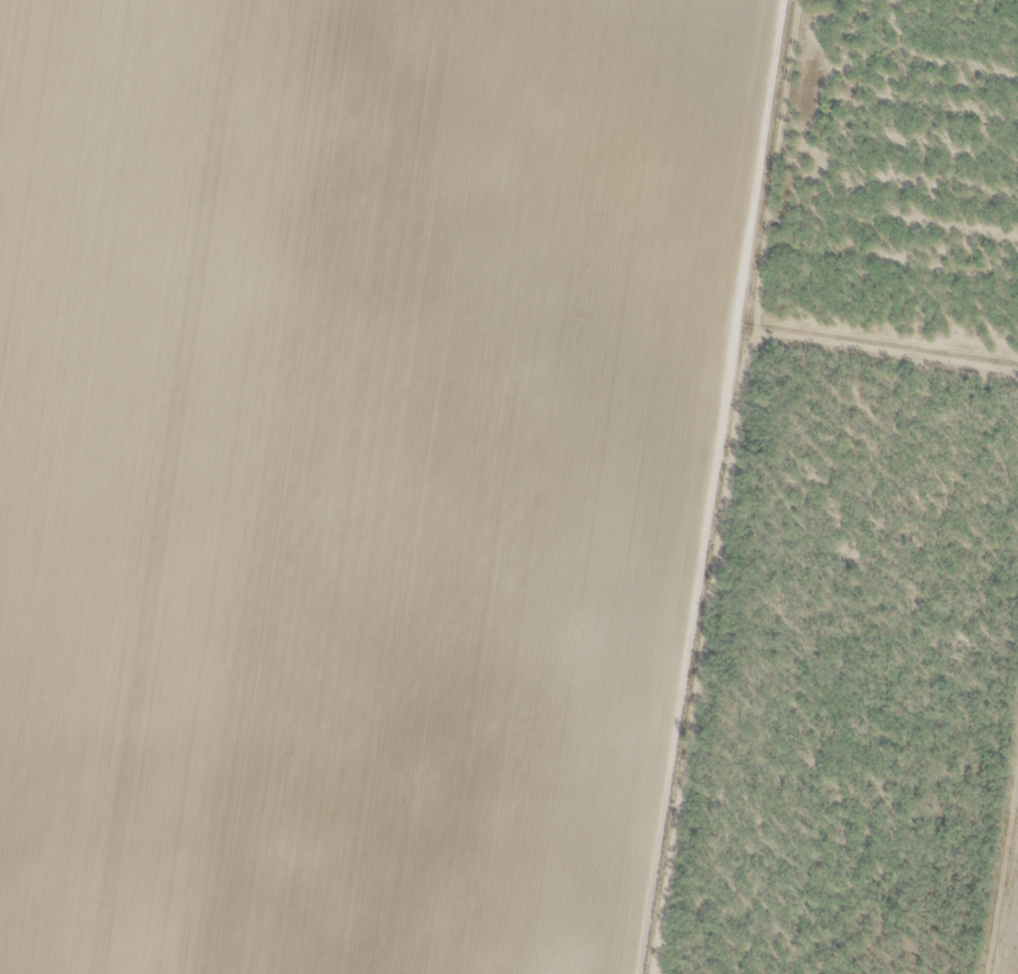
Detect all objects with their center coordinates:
road: (698, 487)

